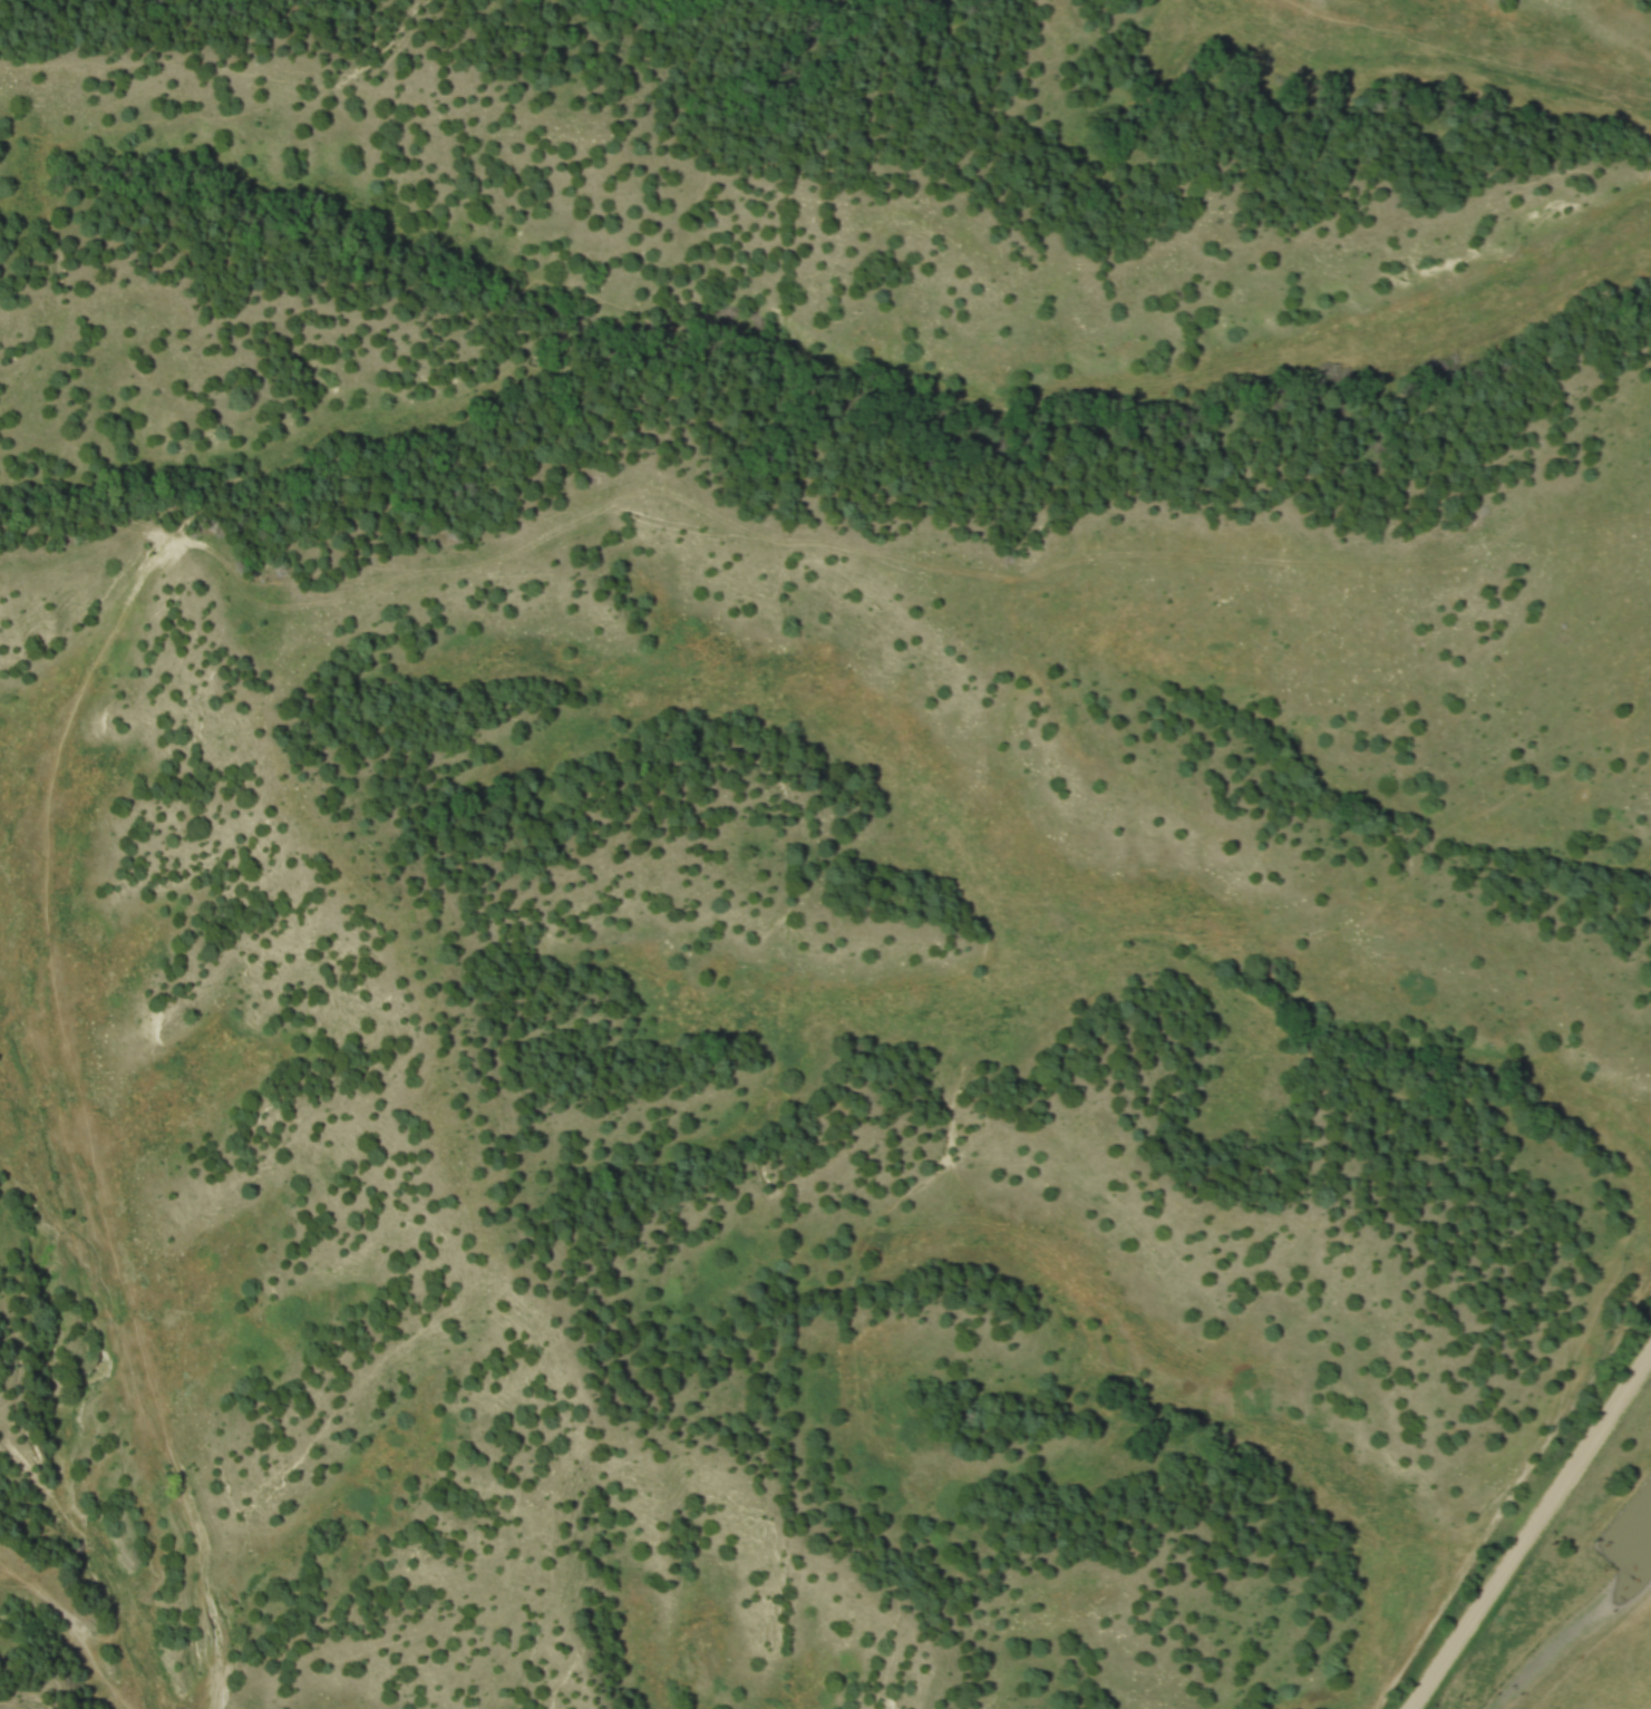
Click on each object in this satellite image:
road: (1527, 1526)

